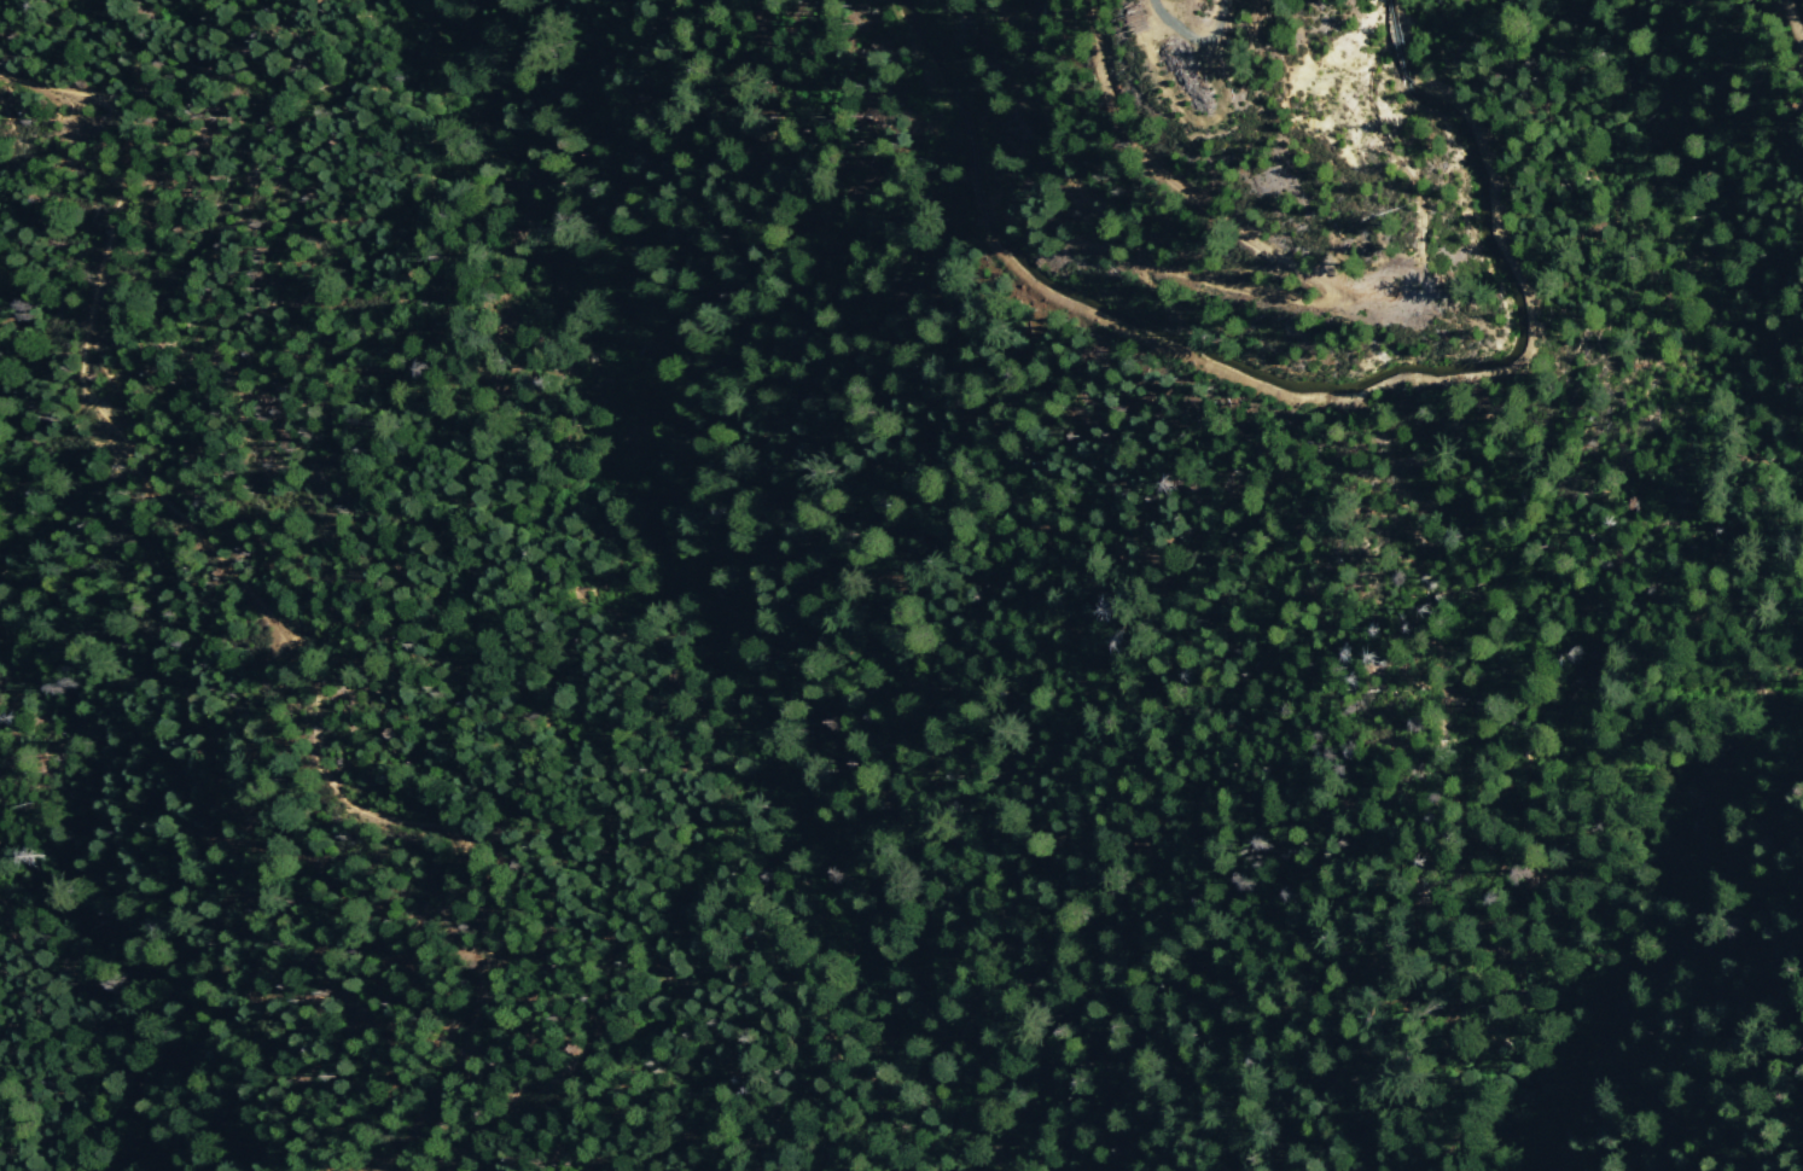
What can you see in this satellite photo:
road: (1186, 34)
road: (266, 616)

